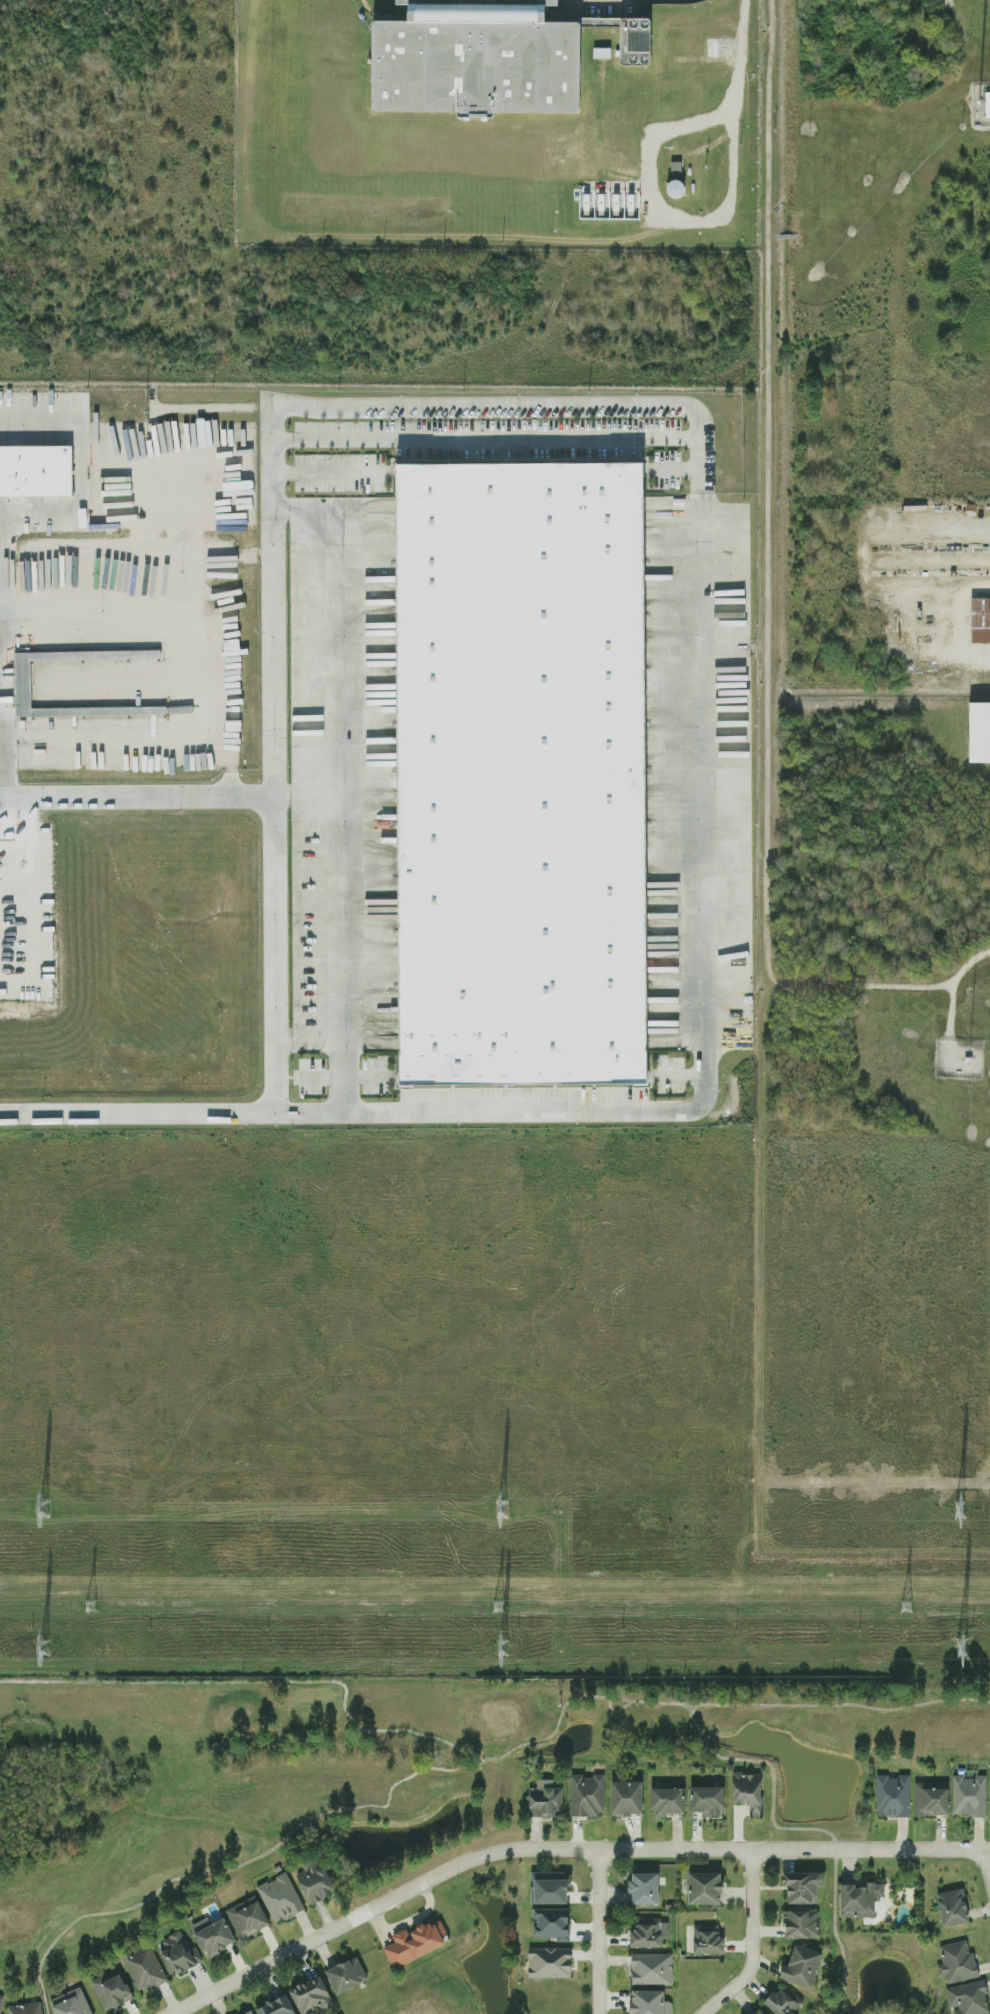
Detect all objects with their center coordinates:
road: (746, 17)
building: (635, 41)
building: (601, 53)
building: (476, 58)
building: (987, 98)
road: (738, 109)
building: (676, 167)
road: (484, 439)
building: (36, 470)
road: (671, 471)
road: (519, 472)
road: (333, 473)
road: (299, 510)
road: (869, 549)
power plant: (873, 565)
road: (785, 576)
road: (933, 585)
road: (949, 617)
building: (980, 621)
road: (945, 651)
building: (22, 683)
building: (978, 733)
road: (118, 739)
building: (520, 775)
road: (230, 778)
road: (308, 796)
road: (137, 797)
road: (10, 827)
road: (276, 900)
road: (945, 992)
road: (700, 1025)
road: (311, 1038)
road: (967, 1084)
power tower: (44, 1510)
power tower: (500, 1513)
power tower: (960, 1514)
power tower: (499, 1606)
power tower: (90, 1607)
power tower: (907, 1609)
power tower: (502, 1649)
power tower: (45, 1650)
power tower: (959, 1650)
road: (256, 1682)
road: (791, 1704)
road: (692, 1720)
road: (703, 1742)
building: (749, 1791)
building: (586, 1795)
building: (892, 1795)
building: (969, 1795)
building: (545, 1798)
building: (627, 1798)
building: (931, 1798)
park: (417, 1799)
building: (708, 1800)
building: (668, 1801)
road: (307, 1819)
road: (830, 1835)
road: (561, 1849)
road: (986, 1864)
building: (315, 1881)
building: (803, 1885)
building: (549, 1887)
building: (706, 1887)
building: (645, 1888)
building: (279, 1897)
building: (860, 1899)
building: (953, 1907)
building: (247, 1917)
building: (552, 1923)
building: (801, 1924)
road: (600, 1931)
building: (648, 1933)
building: (213, 1935)
building: (707, 1939)
building: (415, 1942)
road: (752, 1942)
building: (177, 1953)
building: (549, 1962)
building: (956, 1962)
building: (802, 1966)
building: (143, 1969)
building: (651, 1969)
building: (346, 1975)
building: (111, 1991)
building: (311, 1995)
building: (967, 1998)
building: (0, 2000)
building: (650, 2002)
building: (70, 2003)
building: (783, 2003)
building: (24, 2008)
building: (251, 2013)

